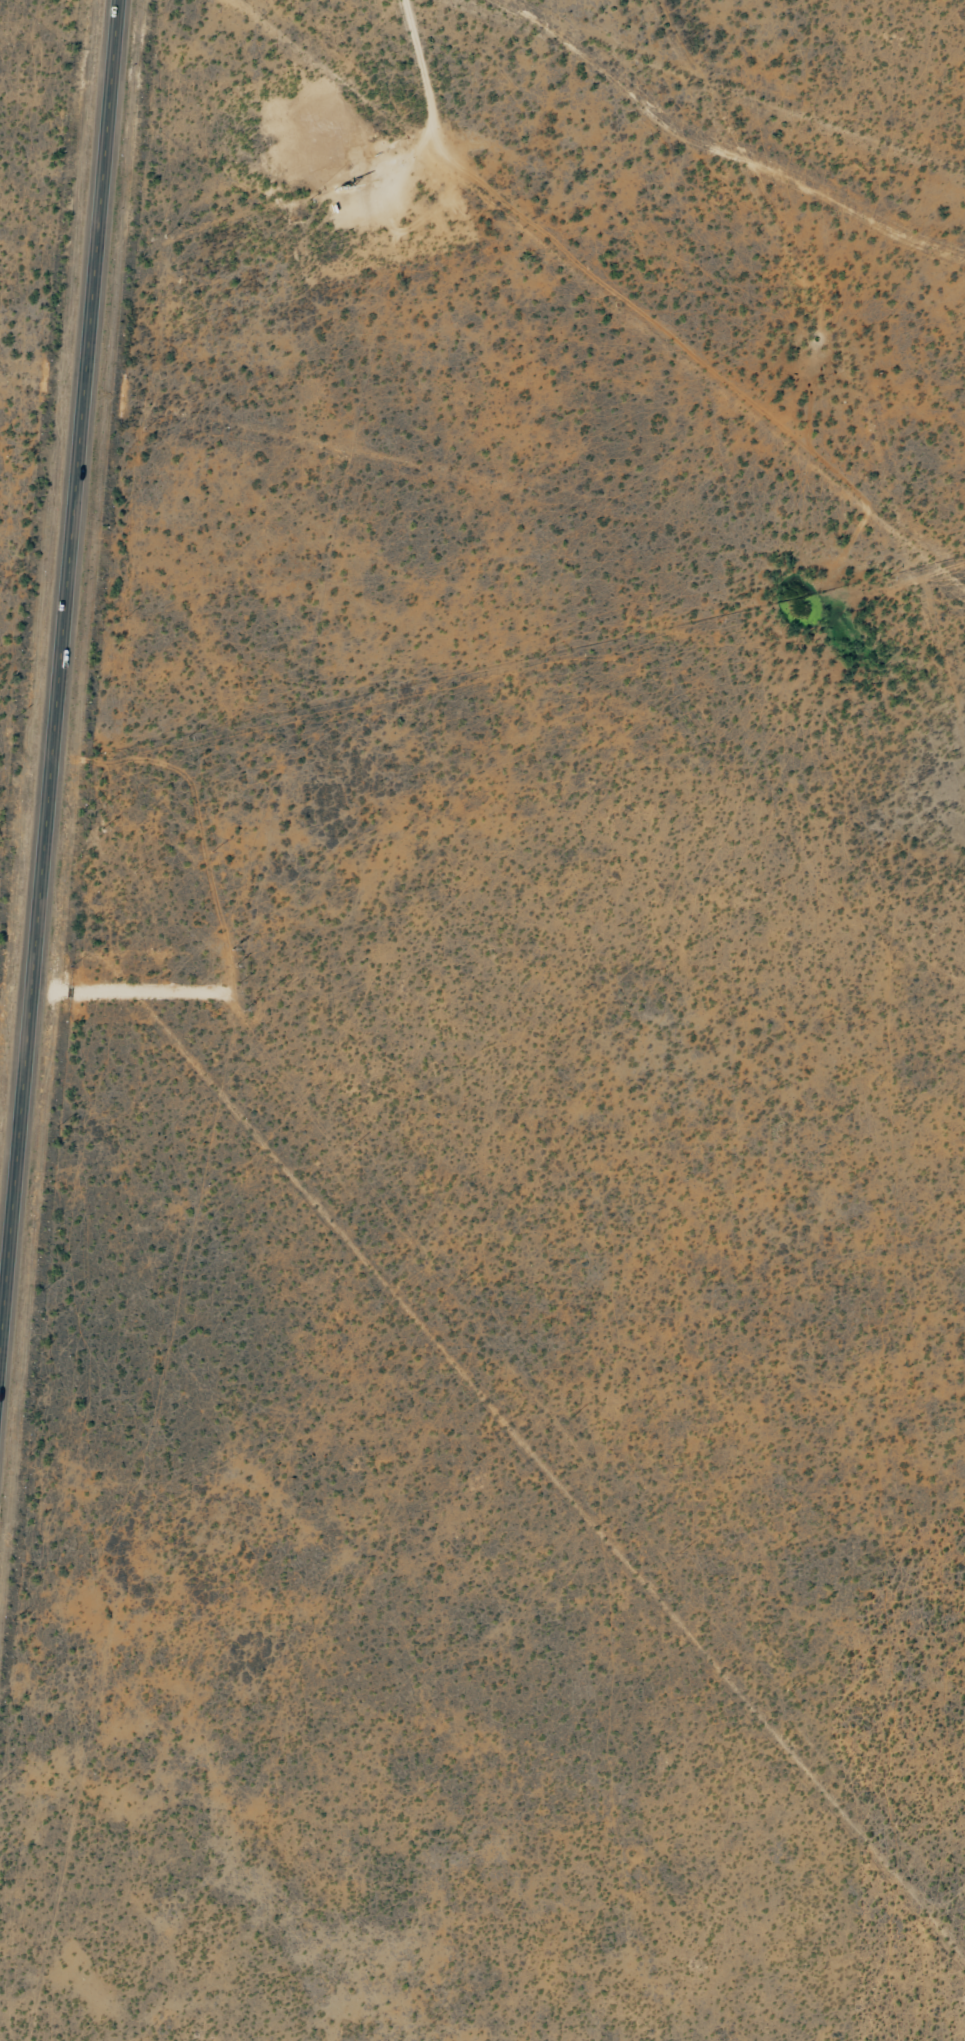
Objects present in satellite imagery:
road: (60, 680)

